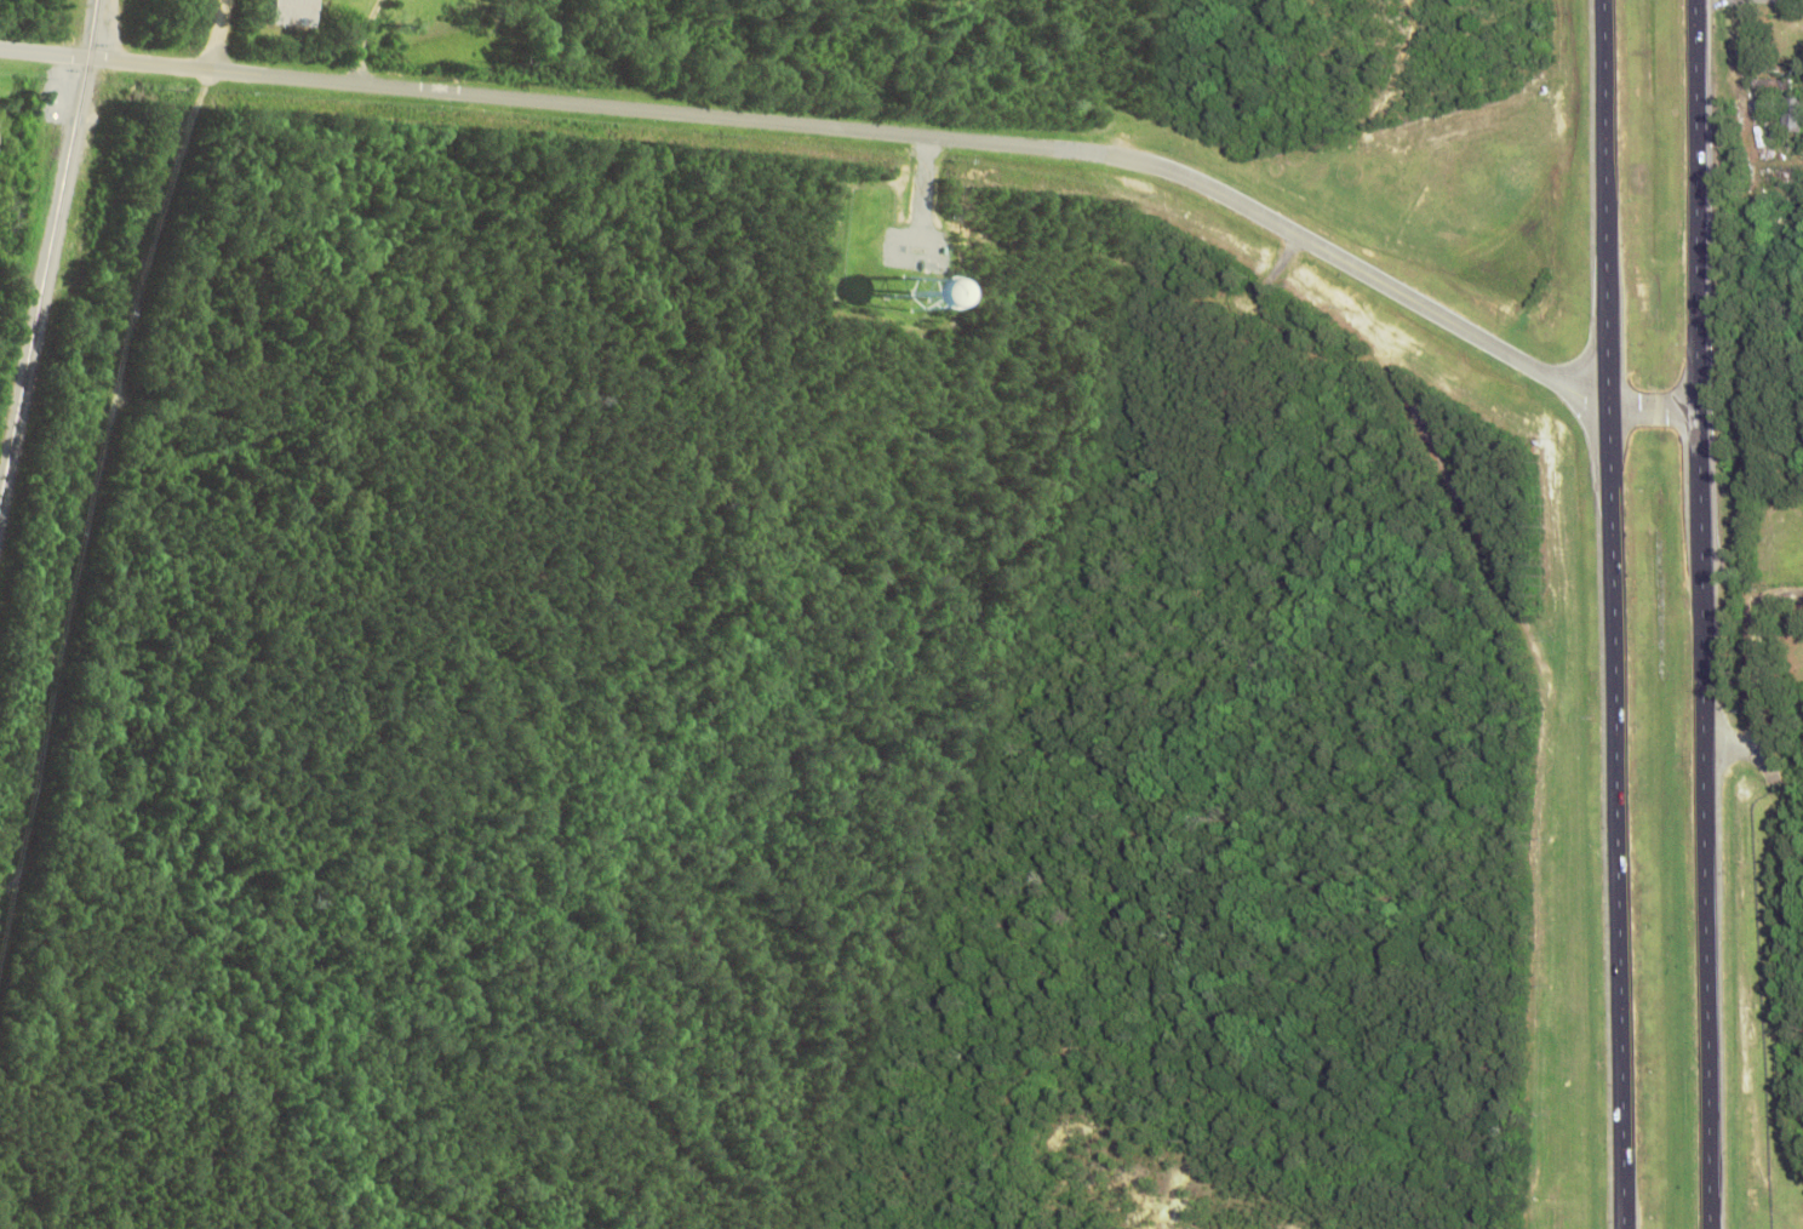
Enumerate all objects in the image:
building: (300, 11)
road: (223, 34)
building: (1790, 109)
road: (877, 130)
railway: (51, 257)
building: (905, 284)
water tower: (915, 296)
road: (1610, 613)
road: (1702, 613)
road: (1756, 671)

